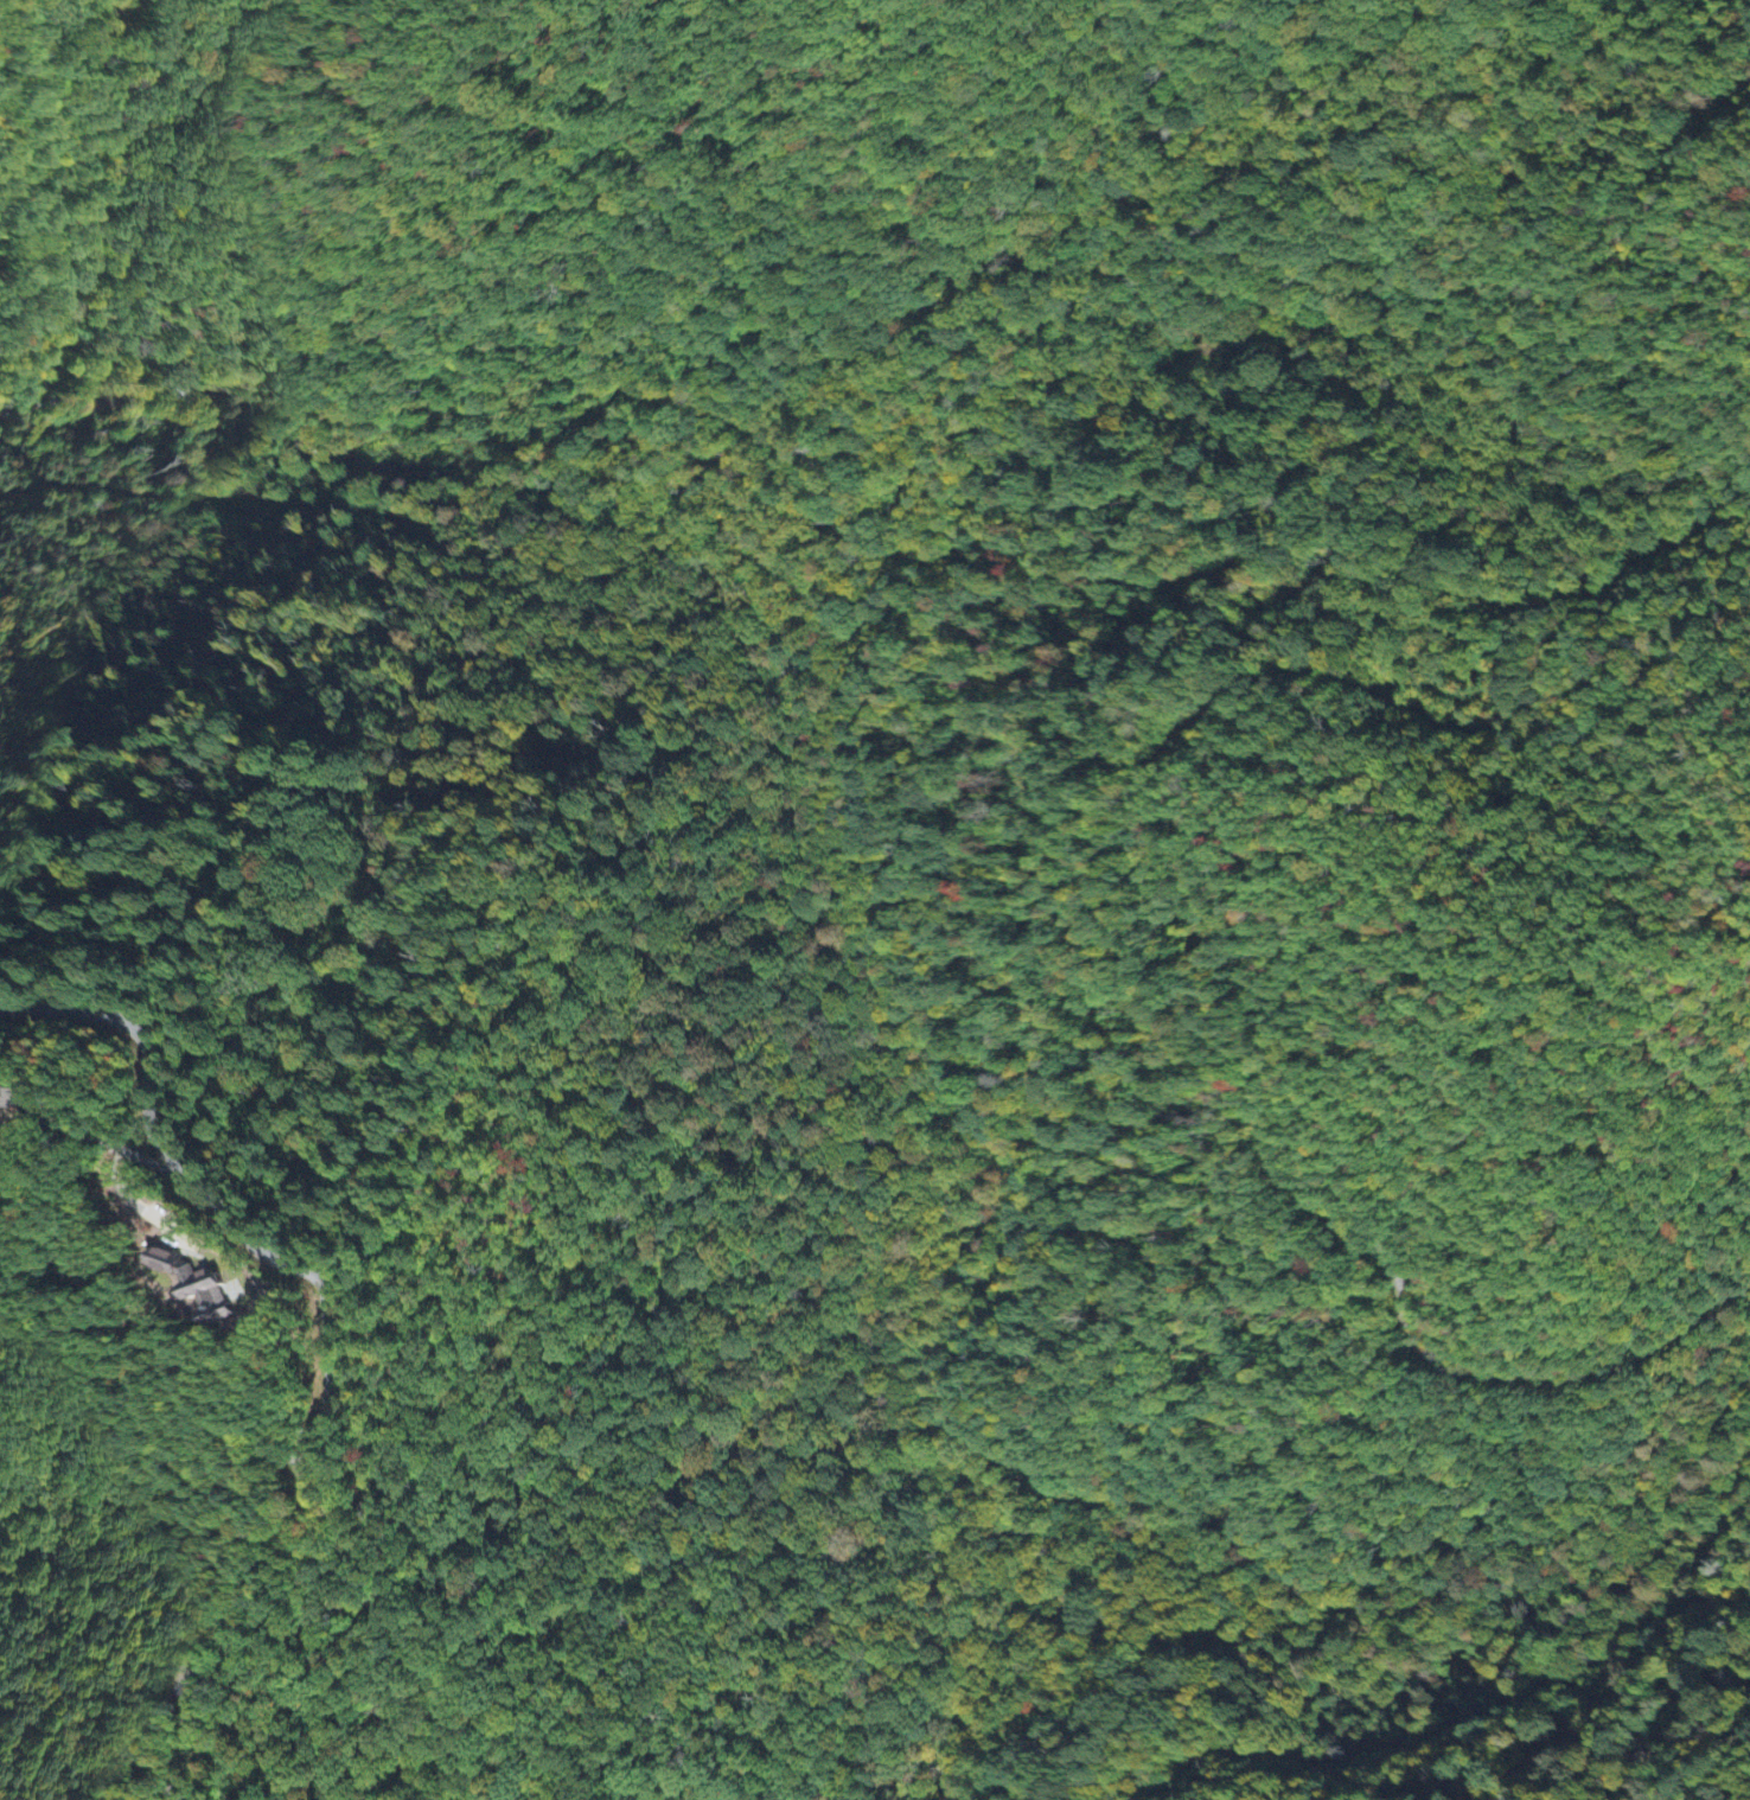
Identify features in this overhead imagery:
building: (9, 1099)
road: (205, 1196)
building: (231, 1295)
building: (205, 1300)

